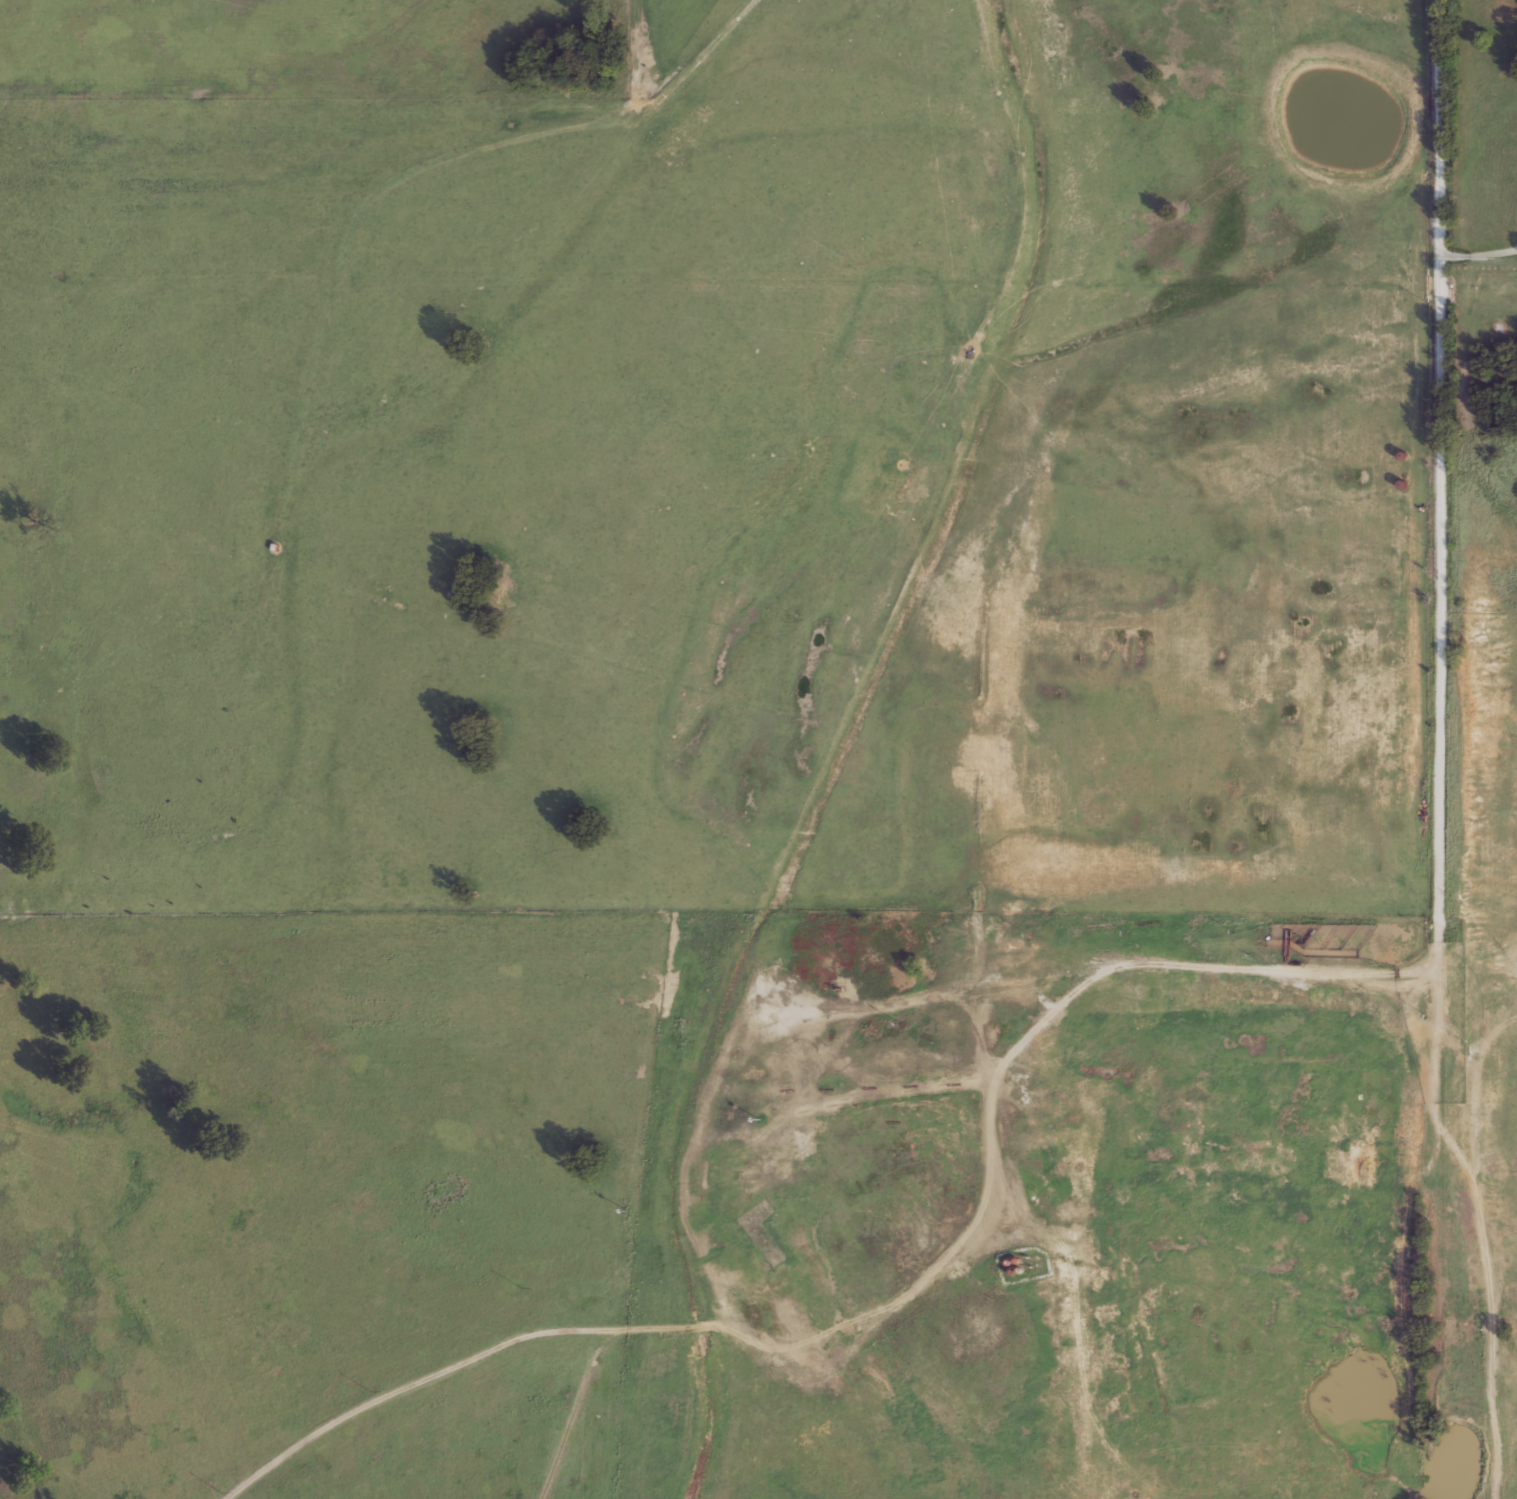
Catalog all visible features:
road: (1484, 257)
road: (1448, 506)
road: (1139, 1027)
road: (1455, 1104)
road: (847, 1309)
road: (1448, 1349)

